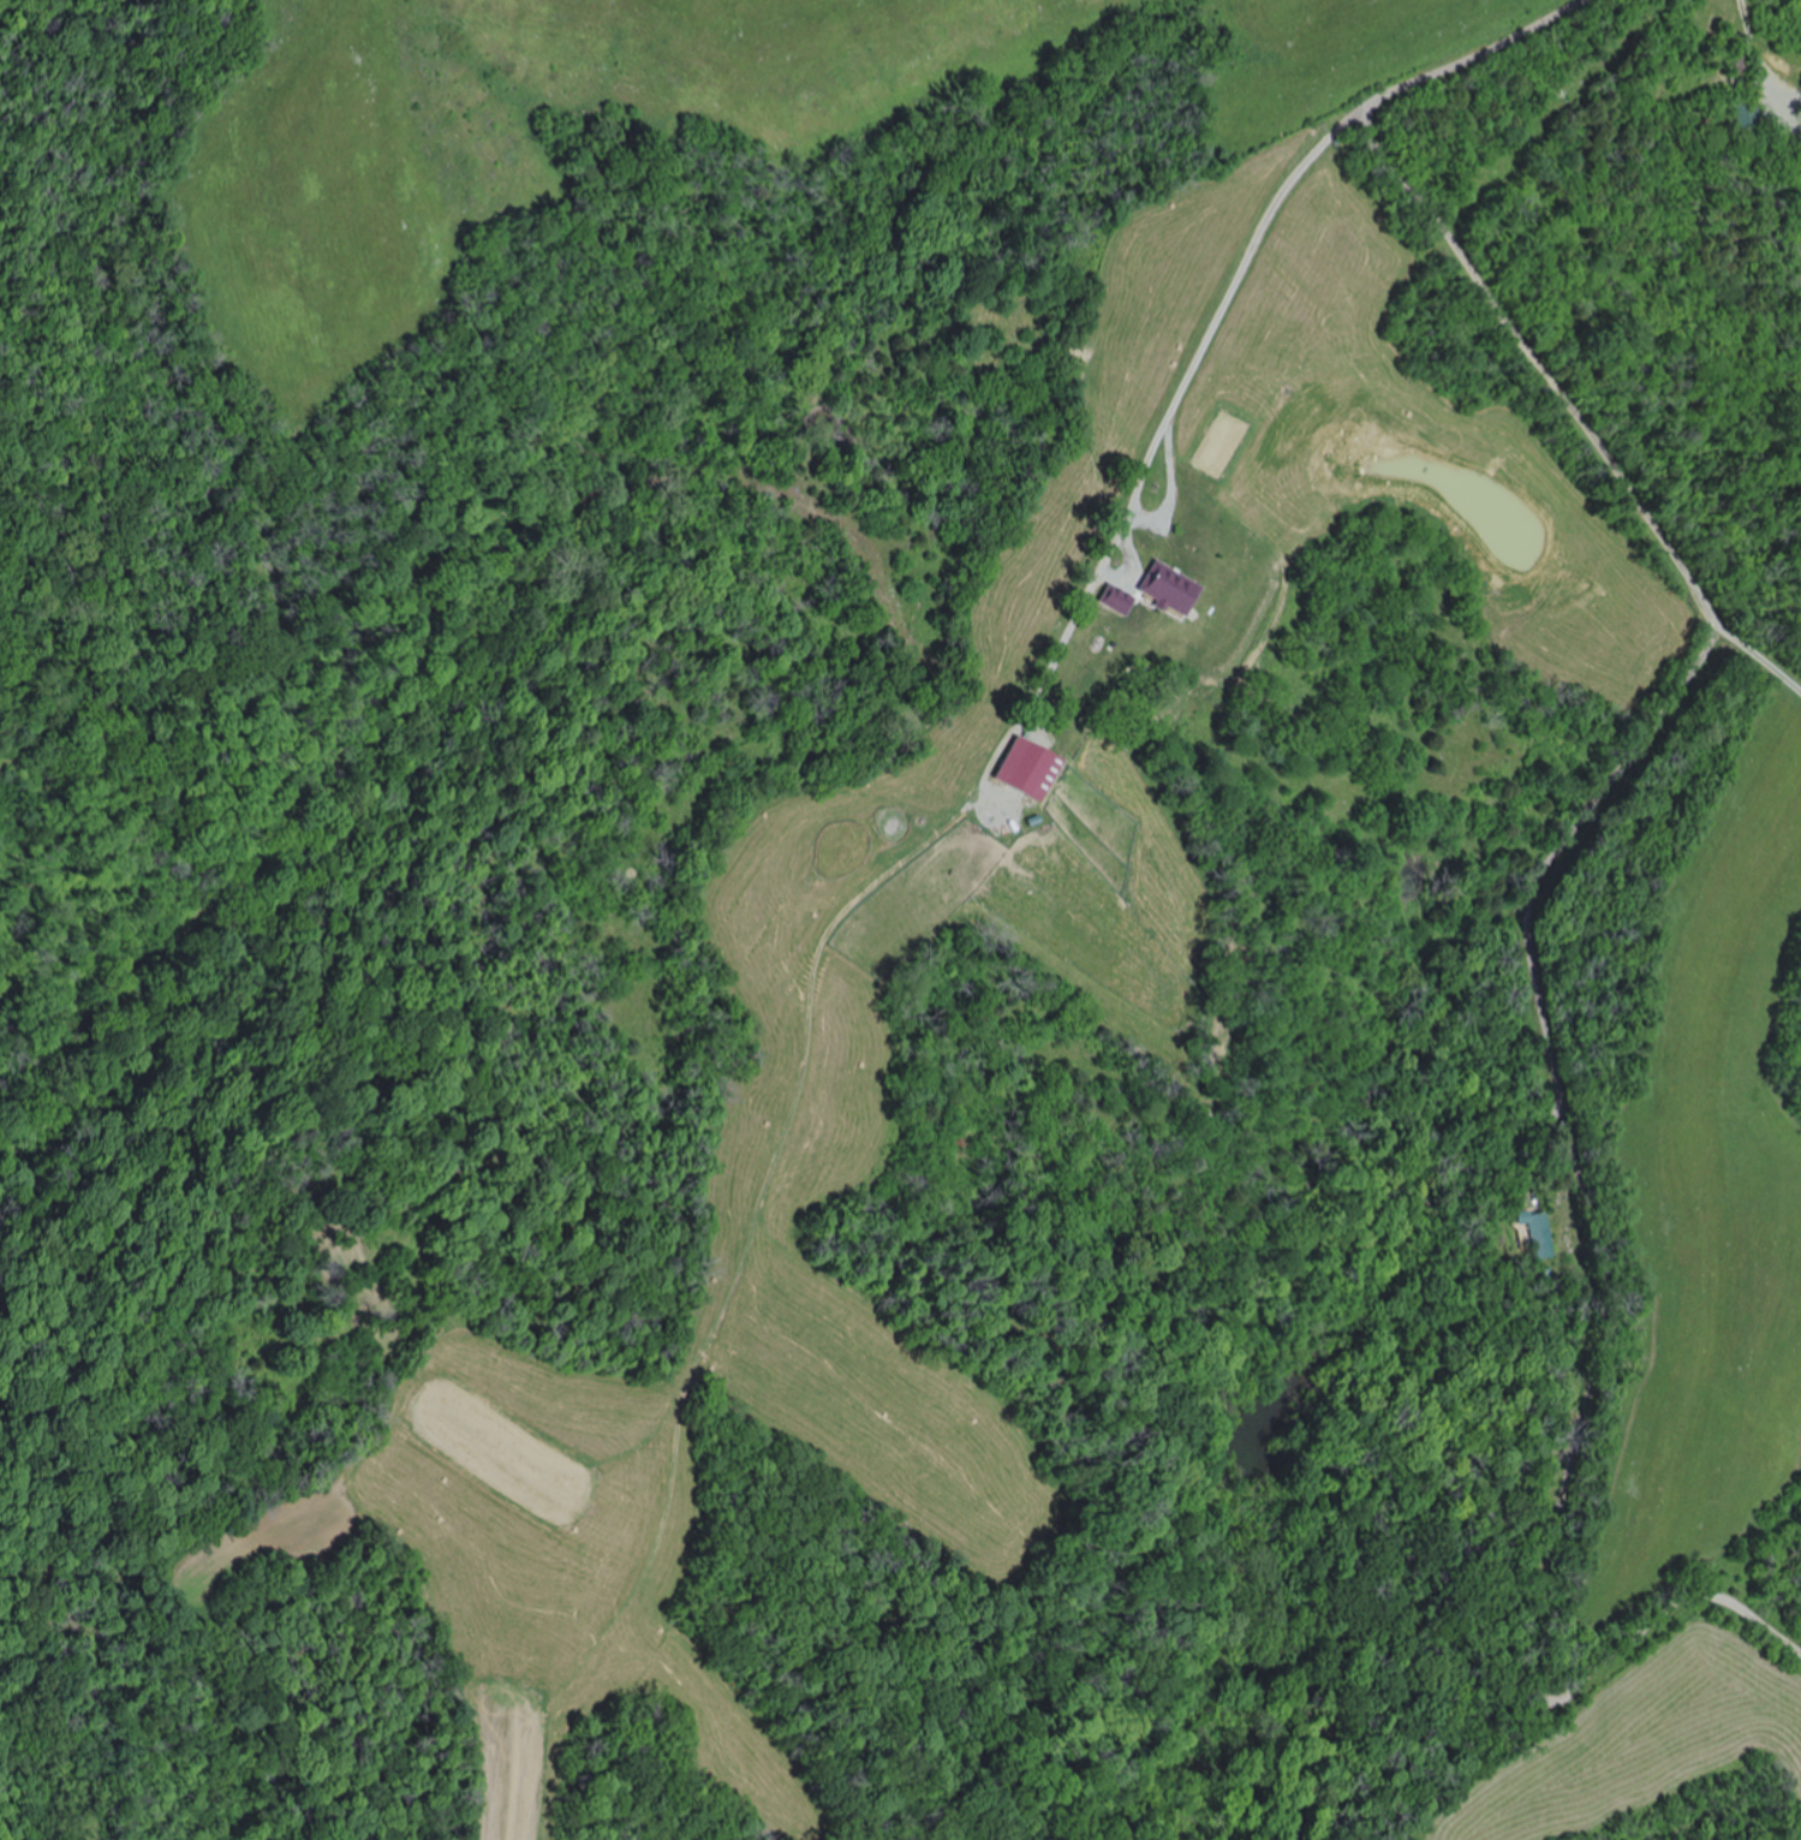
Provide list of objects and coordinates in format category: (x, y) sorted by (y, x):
road: (1483, 44)
road: (1380, 96)
road: (1234, 309)
building: (1144, 600)
road: (1758, 669)
building: (1034, 770)
road: (1533, 955)
building: (1537, 1233)

